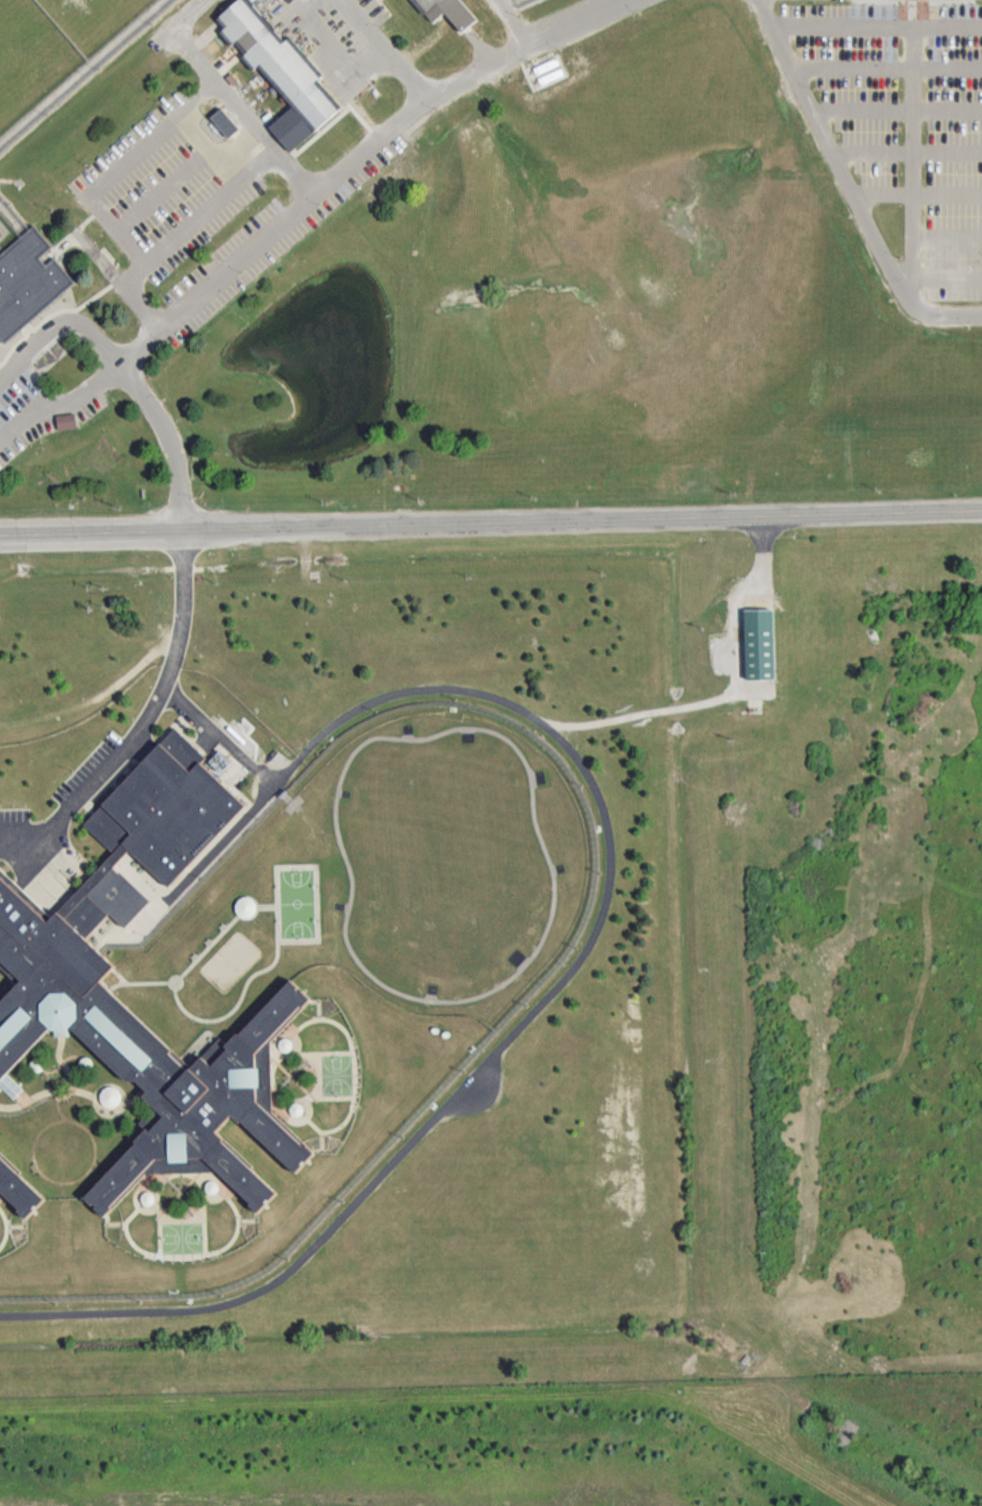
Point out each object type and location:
building: (452, 11)
road: (515, 23)
road: (879, 23)
road: (380, 50)
road: (888, 65)
building: (282, 70)
road: (455, 84)
road: (236, 99)
road: (897, 107)
building: (223, 119)
road: (365, 119)
parking lot: (909, 124)
road: (914, 149)
road: (138, 151)
road: (906, 151)
road: (164, 183)
road: (848, 186)
road: (916, 191)
road: (948, 234)
road: (139, 260)
road: (948, 279)
building: (24, 280)
road: (142, 300)
road: (155, 331)
road: (154, 410)
building: (66, 420)
road: (583, 519)
road: (116, 531)
road: (23, 533)
building: (759, 643)
road: (729, 690)
road: (149, 715)
road: (221, 733)
building: (247, 906)
road: (590, 942)
building: (62, 969)
building: (10, 1084)
building: (111, 1095)
building: (19, 1187)

